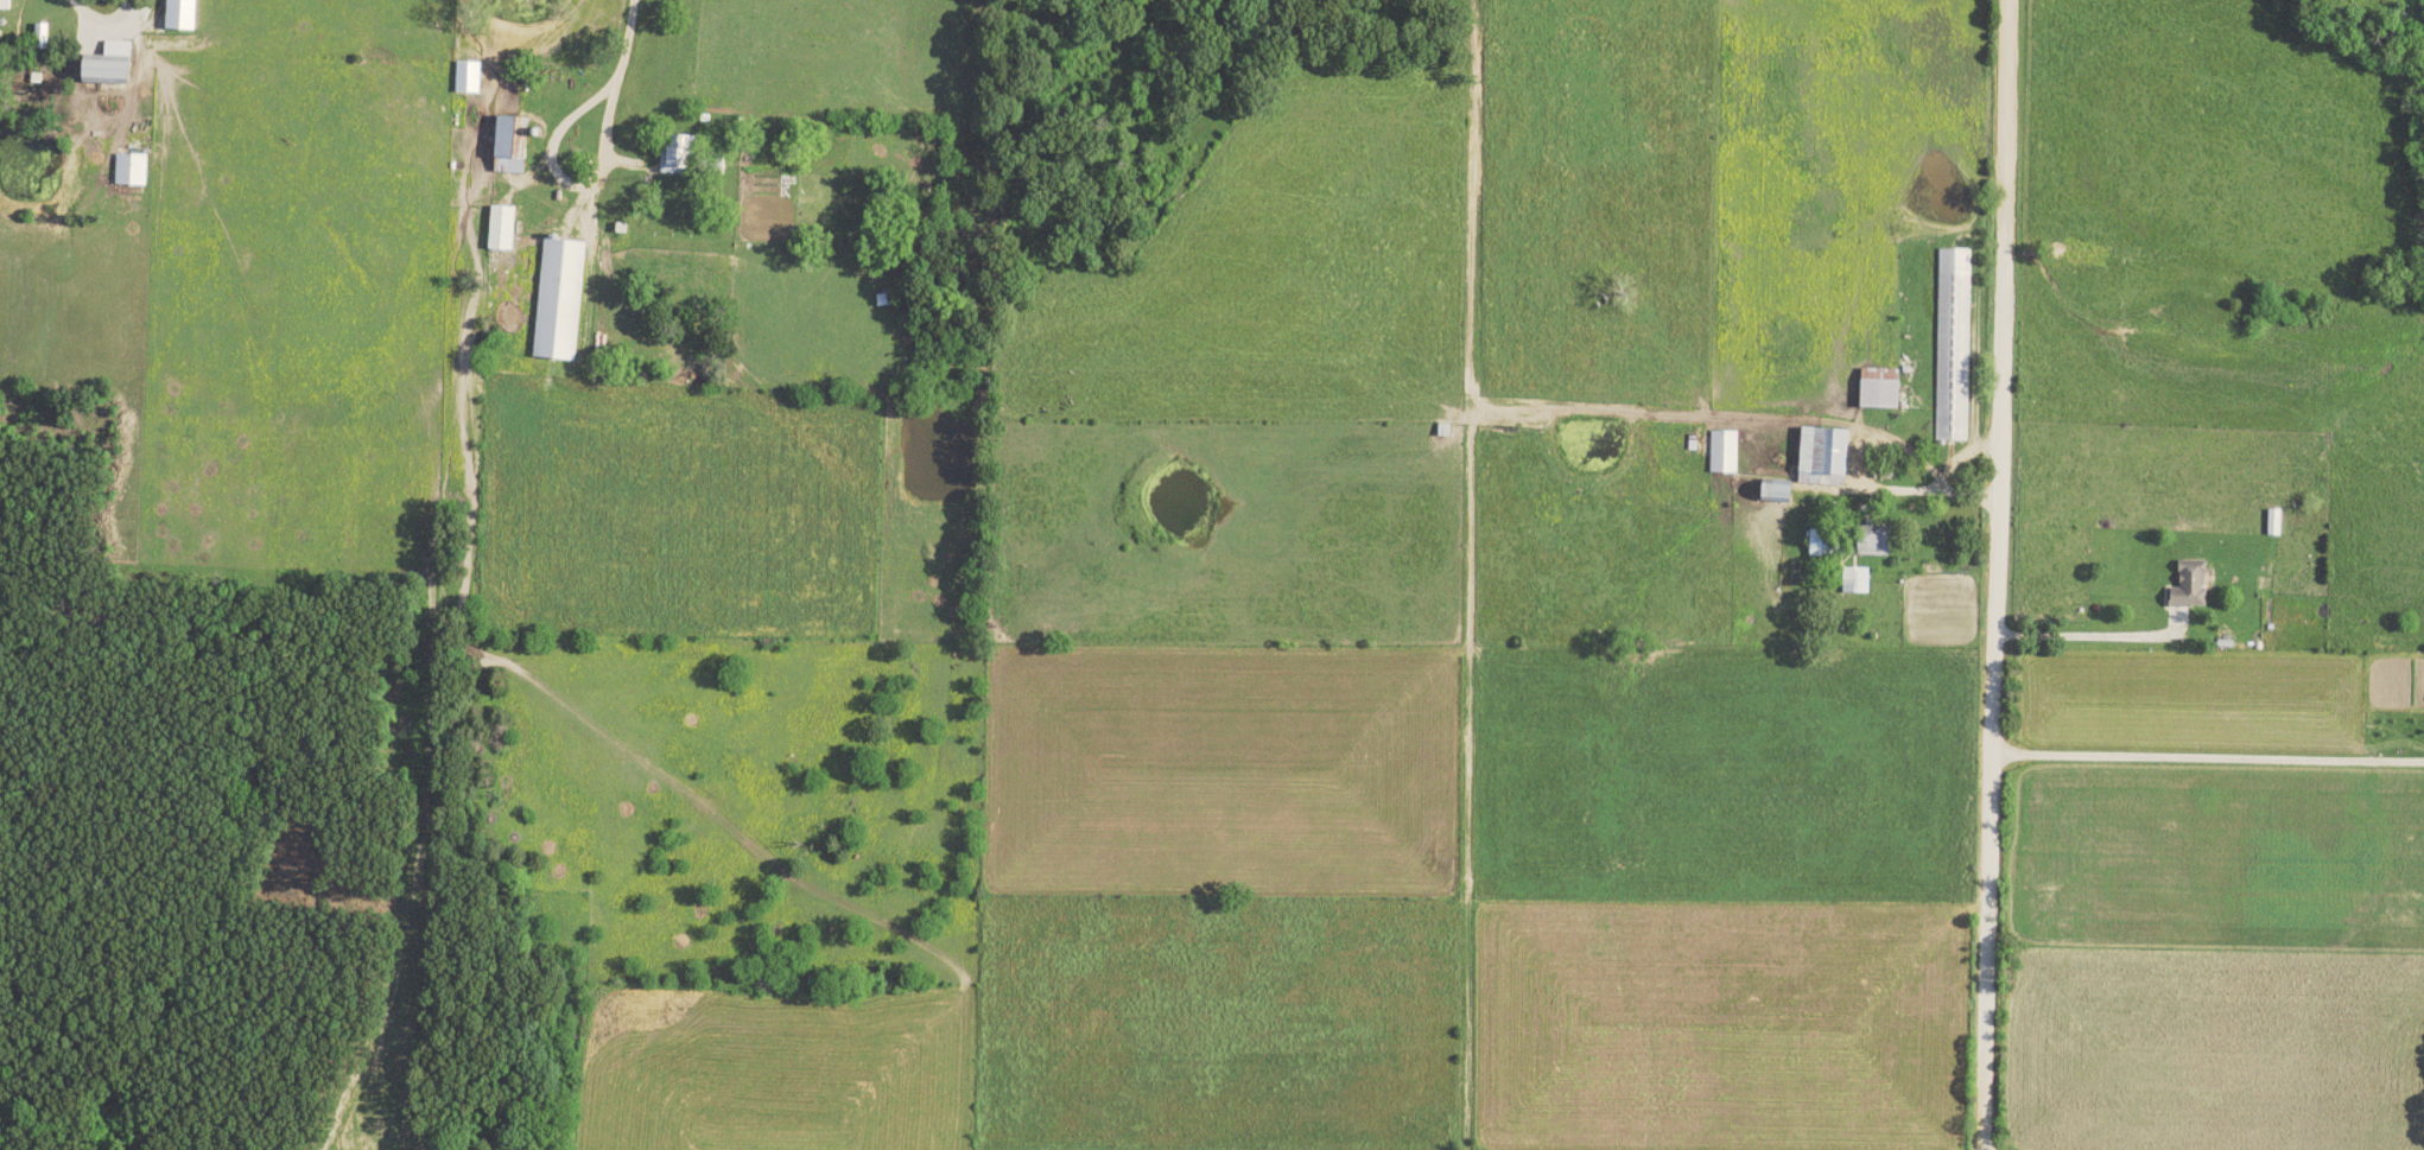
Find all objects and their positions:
building: (5, 5)
building: (177, 14)
road: (89, 19)
road: (518, 37)
road: (616, 47)
building: (100, 64)
building: (465, 77)
building: (505, 150)
road: (540, 157)
building: (128, 170)
building: (499, 229)
building: (556, 300)
building: (1952, 345)
building: (1874, 389)
building: (1721, 452)
building: (1832, 453)
building: (1807, 457)
road: (1963, 457)
road: (1854, 488)
building: (2271, 523)
road: (1988, 574)
building: (1853, 582)
building: (2185, 586)
road: (2089, 637)
road: (2204, 756)

